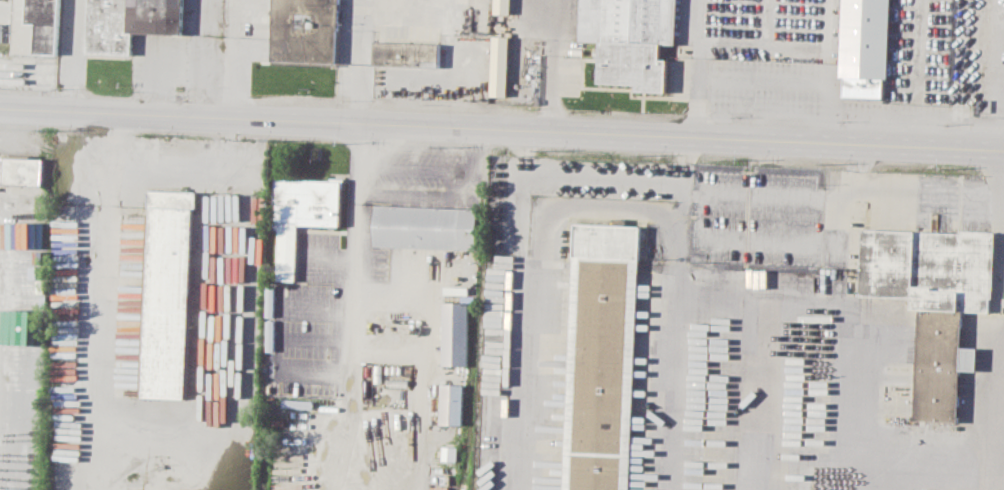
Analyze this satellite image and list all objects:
building: (502, 6)
road: (196, 16)
building: (129, 22)
building: (36, 26)
building: (5, 29)
building: (305, 30)
building: (630, 39)
building: (865, 46)
building: (406, 53)
road: (73, 57)
road: (233, 61)
road: (357, 63)
building: (500, 65)
road: (552, 66)
road: (195, 76)
road: (759, 79)
road: (502, 132)
road: (363, 163)
building: (21, 168)
road: (418, 168)
road: (684, 181)
road: (907, 190)
road: (769, 194)
road: (447, 196)
road: (605, 208)
building: (301, 216)
building: (427, 226)
building: (167, 294)
building: (934, 301)
building: (26, 330)
building: (455, 333)
road: (354, 351)
building: (602, 356)
building: (30, 388)
road: (1000, 402)
building: (452, 403)
building: (449, 452)

